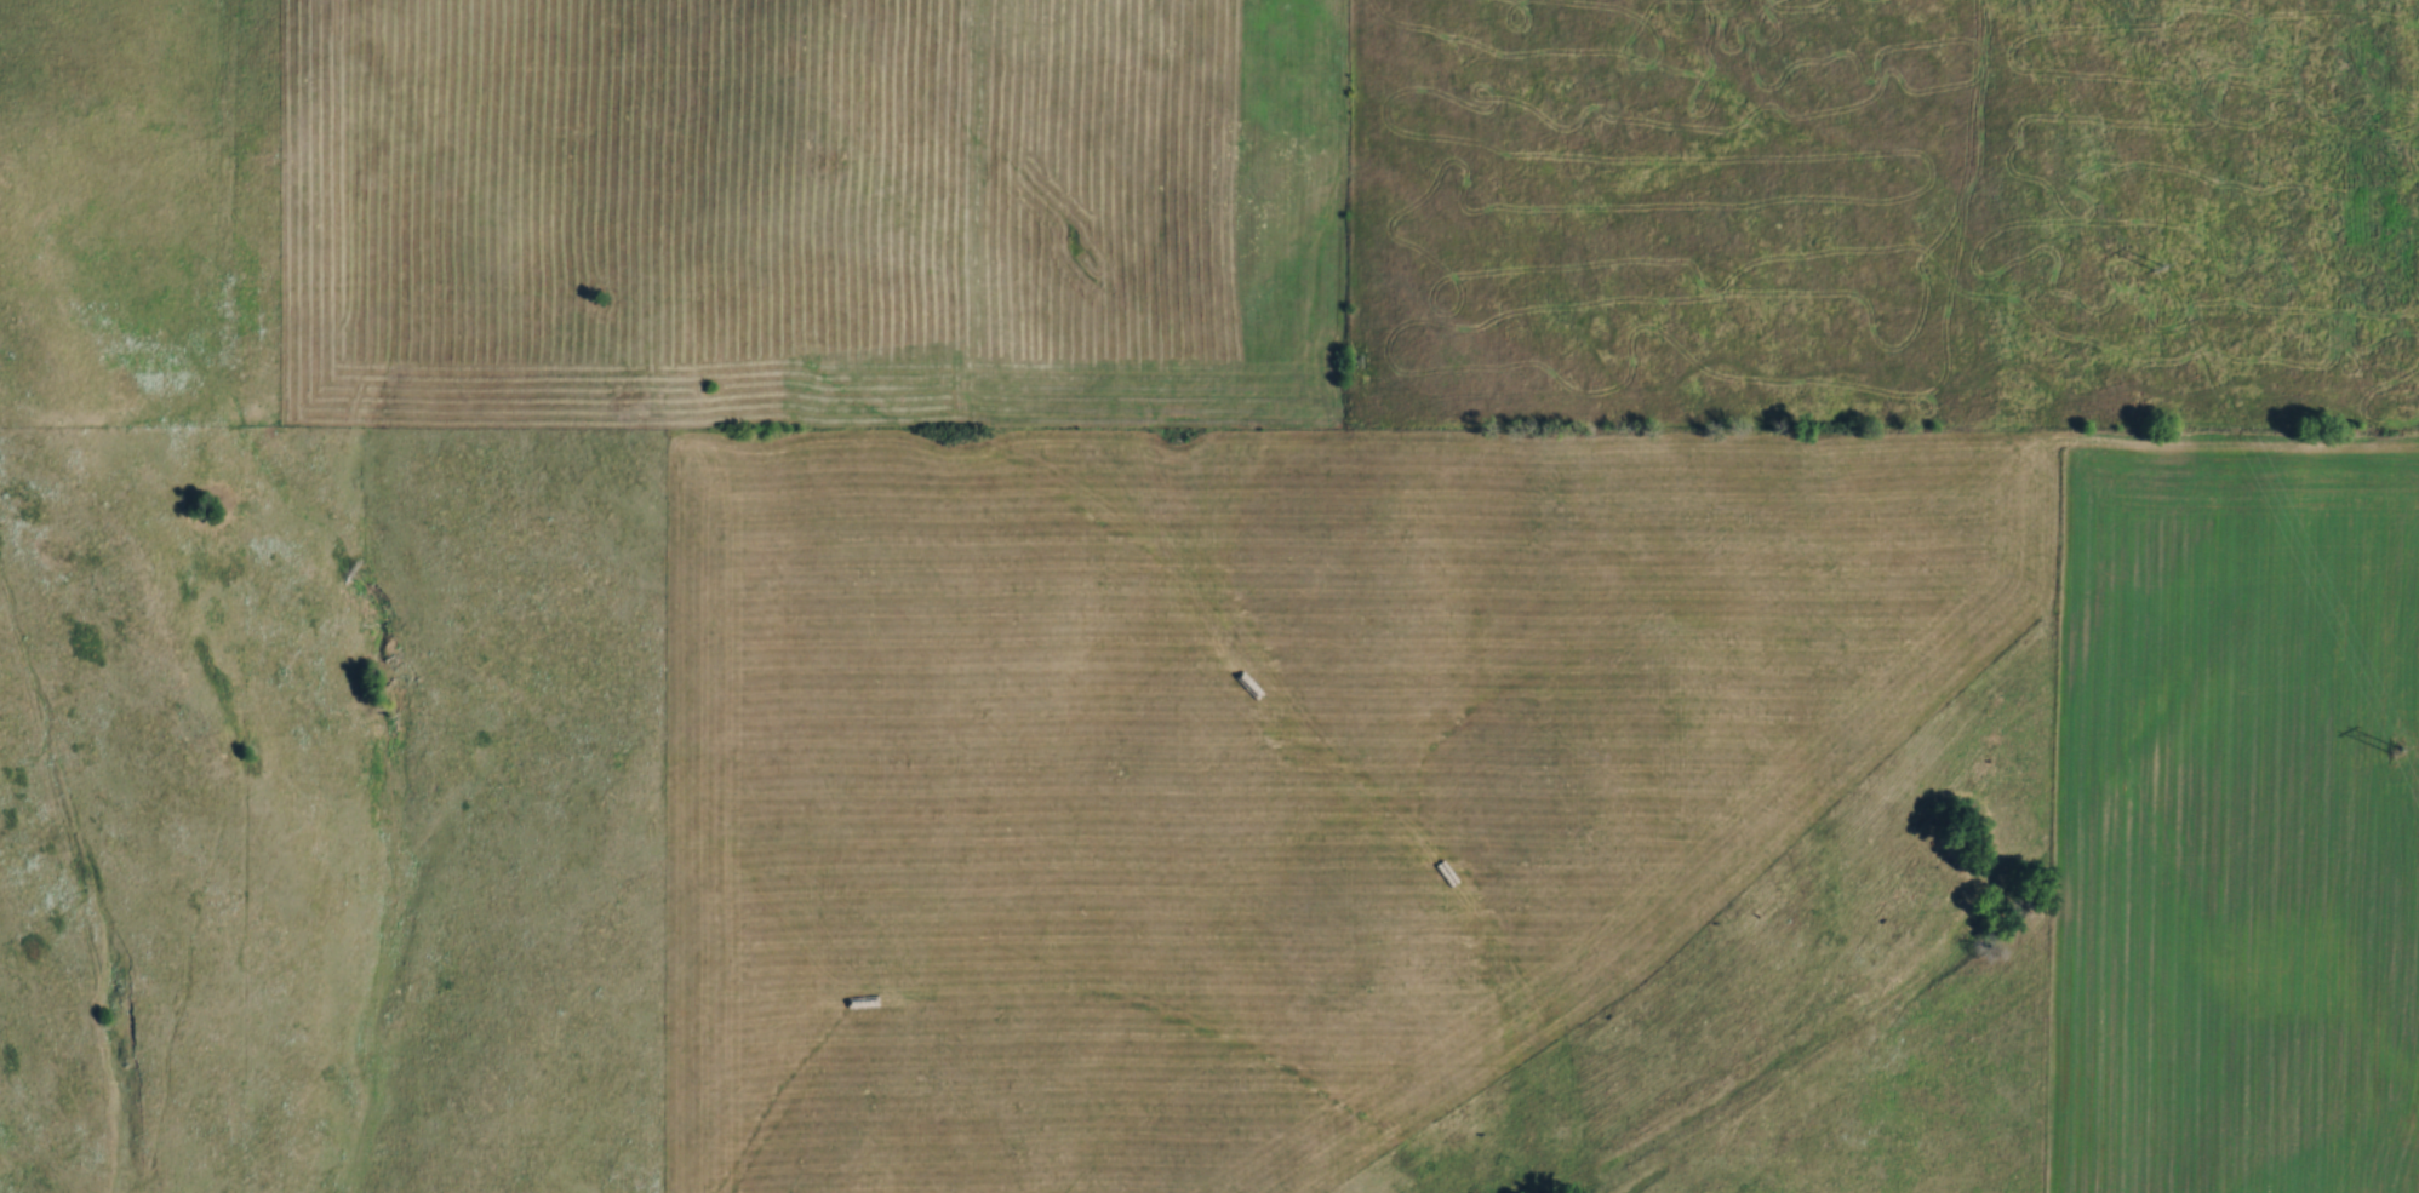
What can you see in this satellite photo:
power tower: (2158, 265)
power tower: (2396, 749)

